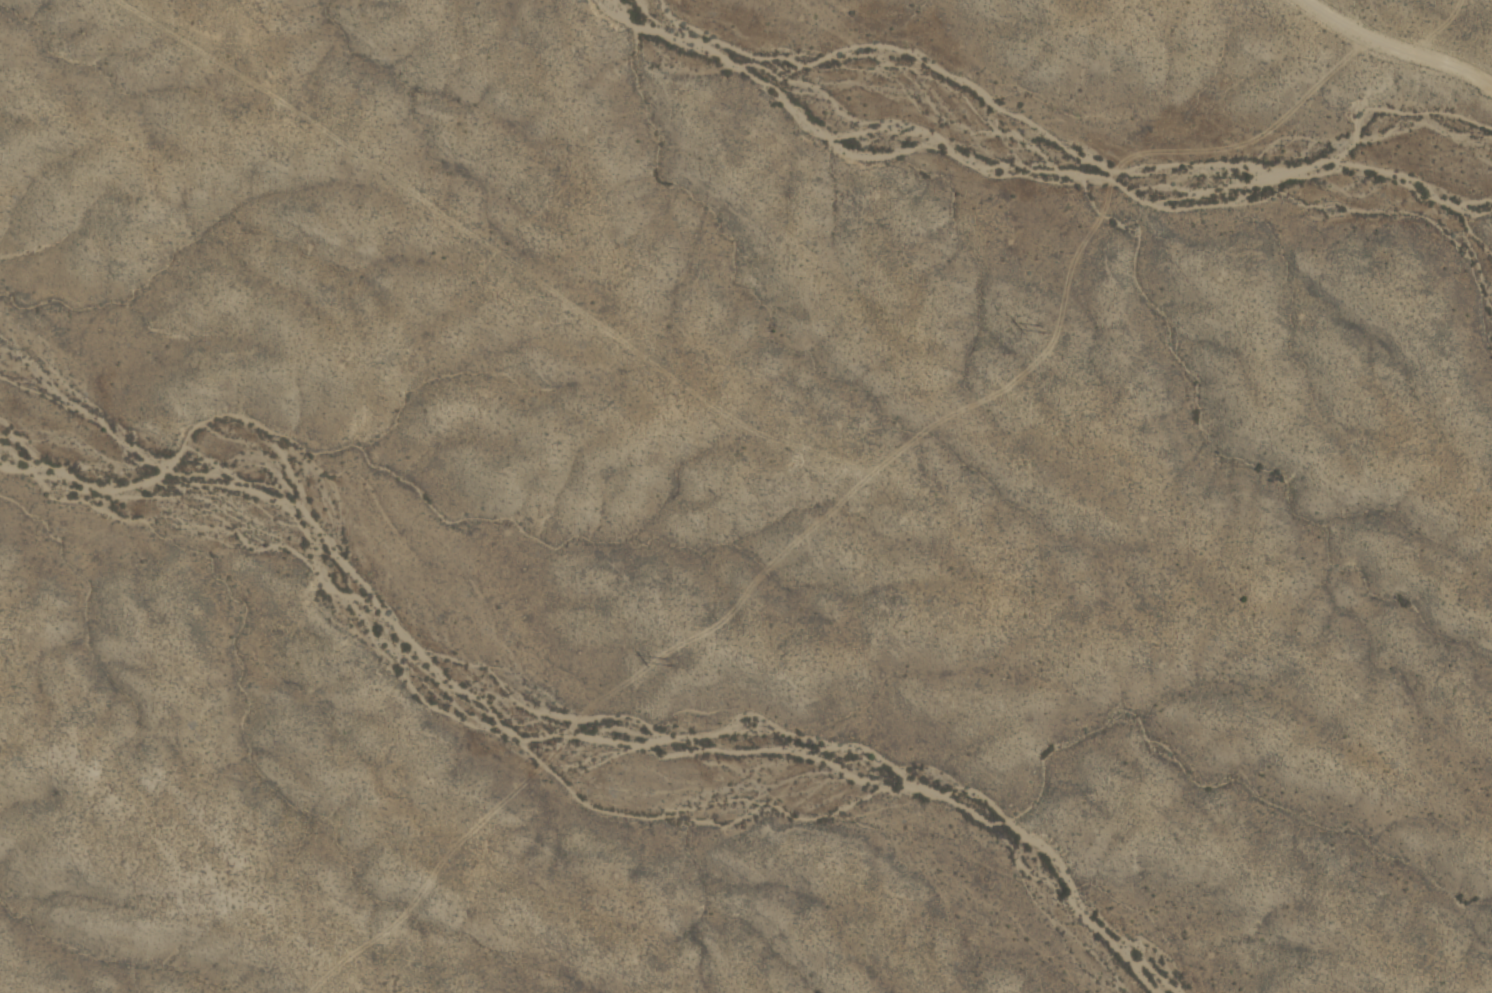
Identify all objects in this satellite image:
road: (1421, 49)
road: (464, 227)
power tower: (1048, 329)
power tower: (677, 666)

